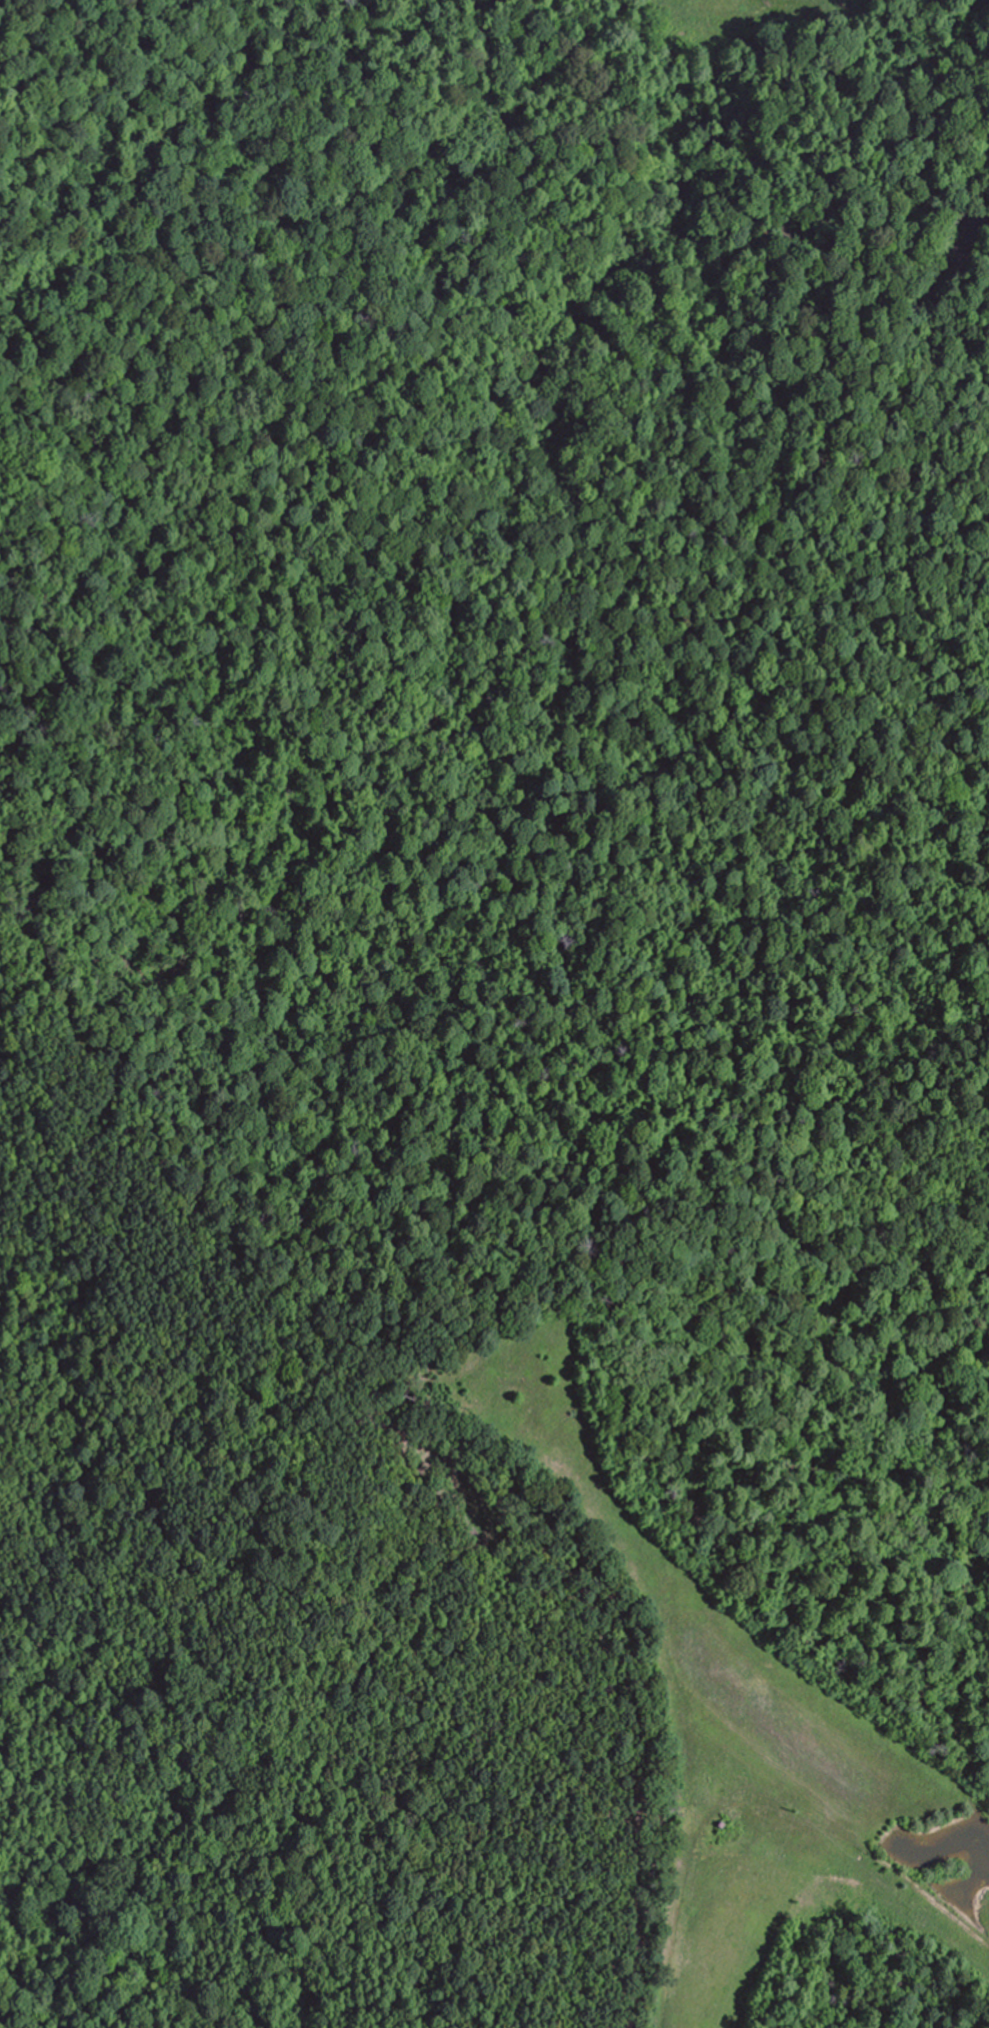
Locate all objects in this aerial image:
road: (733, 1844)

